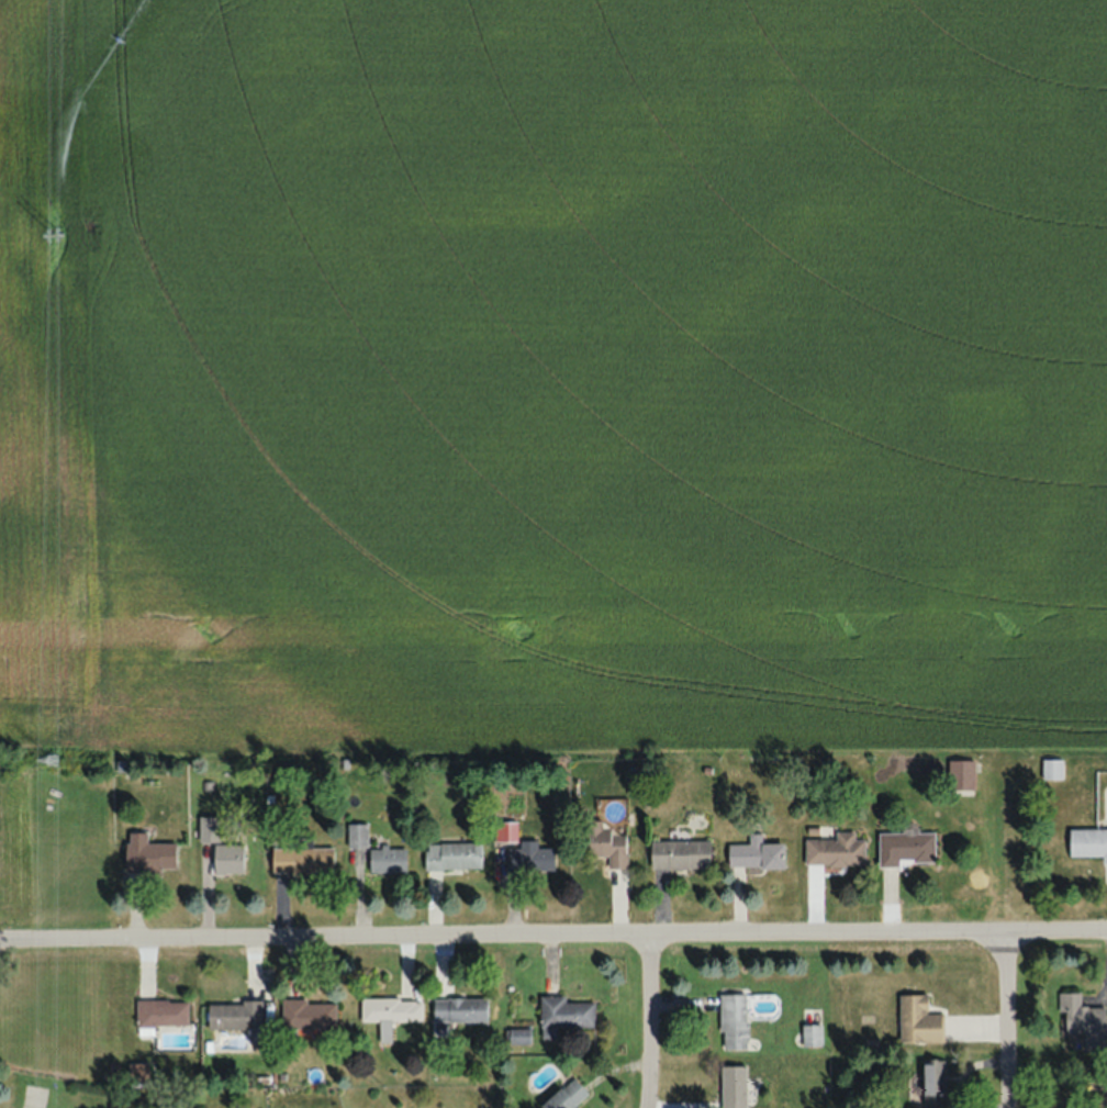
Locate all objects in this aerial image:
power tower: (56, 230)
power tower: (56, 765)
building: (961, 774)
building: (209, 828)
building: (357, 835)
building: (1088, 841)
building: (606, 843)
building: (907, 847)
building: (836, 849)
building: (681, 852)
building: (757, 852)
building: (454, 855)
building: (529, 855)
building: (149, 857)
building: (227, 858)
building: (302, 859)
building: (387, 859)
road: (552, 940)
building: (391, 1009)
building: (459, 1009)
building: (161, 1011)
building: (563, 1014)
building: (235, 1015)
building: (309, 1015)
building: (1083, 1016)
building: (919, 1018)
building: (734, 1019)
road: (647, 1023)
road: (1004, 1023)
building: (812, 1033)
building: (516, 1036)
building: (138, 1072)
building: (935, 1075)
building: (734, 1086)
building: (566, 1096)

